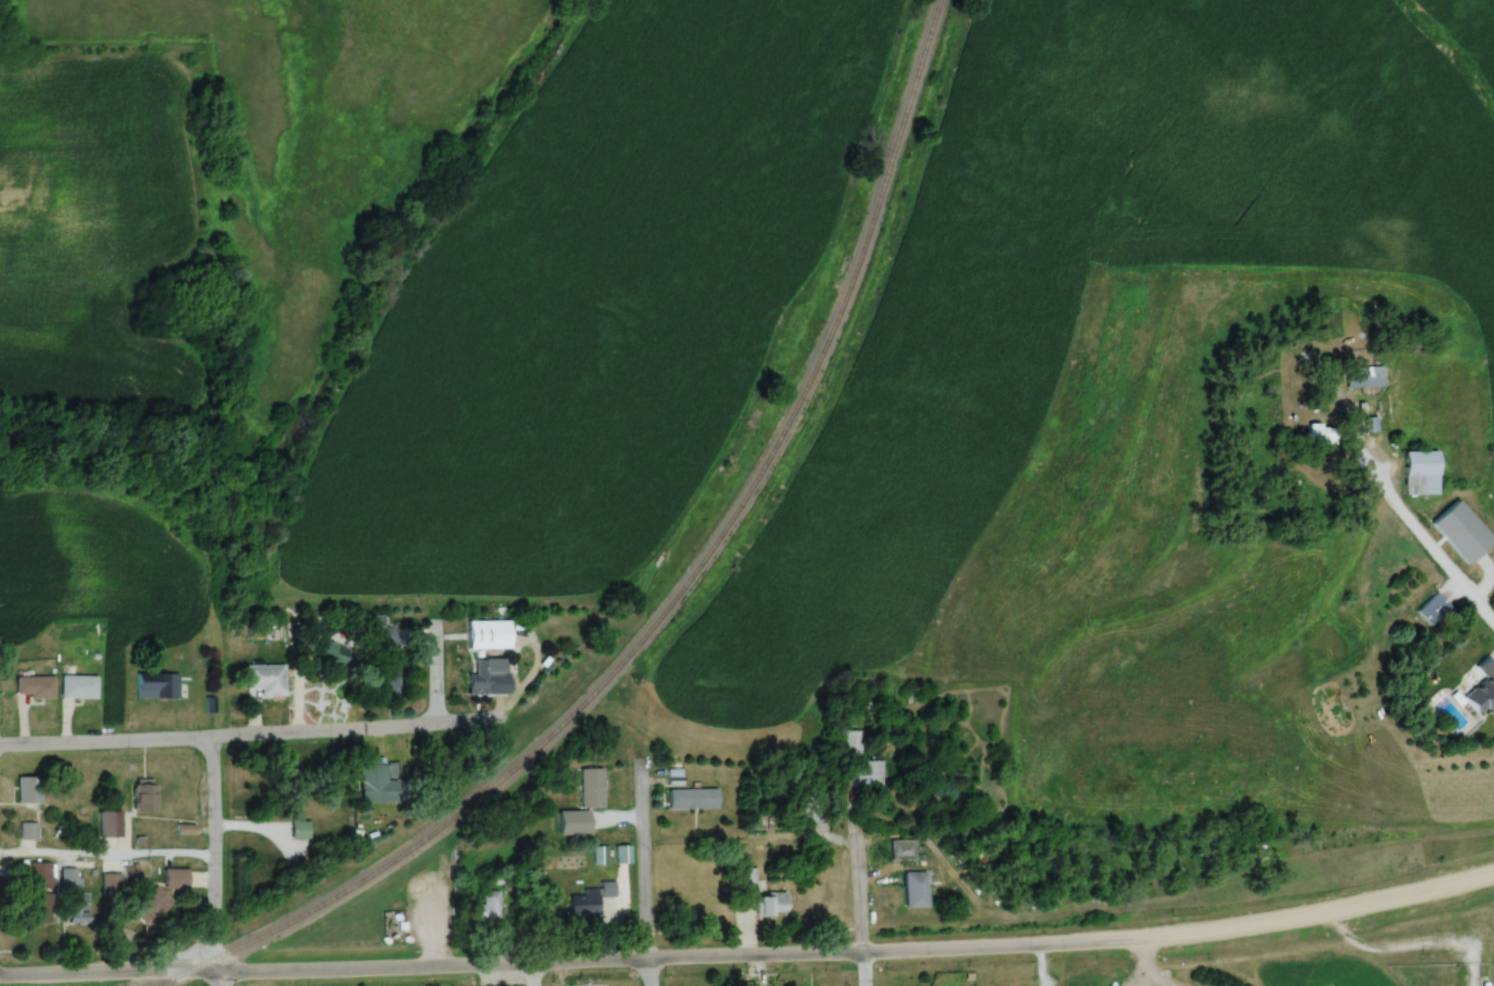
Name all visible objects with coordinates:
building: (1363, 378)
building: (1370, 425)
building: (1321, 435)
building: (1421, 473)
building: (1460, 532)
road: (1416, 539)
railway: (675, 597)
building: (1433, 609)
building: (489, 635)
building: (329, 655)
building: (385, 659)
building: (486, 675)
road: (431, 676)
building: (266, 679)
building: (157, 685)
building: (35, 687)
building: (79, 687)
building: (1483, 688)
road: (233, 736)
building: (852, 741)
building: (869, 775)
building: (293, 778)
building: (591, 788)
building: (28, 791)
building: (145, 799)
building: (692, 799)
building: (573, 824)
building: (109, 825)
building: (185, 830)
building: (27, 831)
building: (298, 831)
building: (348, 837)
road: (748, 845)
building: (902, 850)
building: (621, 855)
road: (209, 861)
road: (104, 862)
building: (128, 876)
road: (643, 876)
building: (175, 880)
building: (745, 882)
building: (111, 885)
building: (916, 890)
building: (41, 893)
building: (74, 898)
building: (590, 899)
building: (156, 902)
building: (772, 905)
building: (488, 908)
road: (853, 920)
road: (1312, 920)
road: (564, 962)

